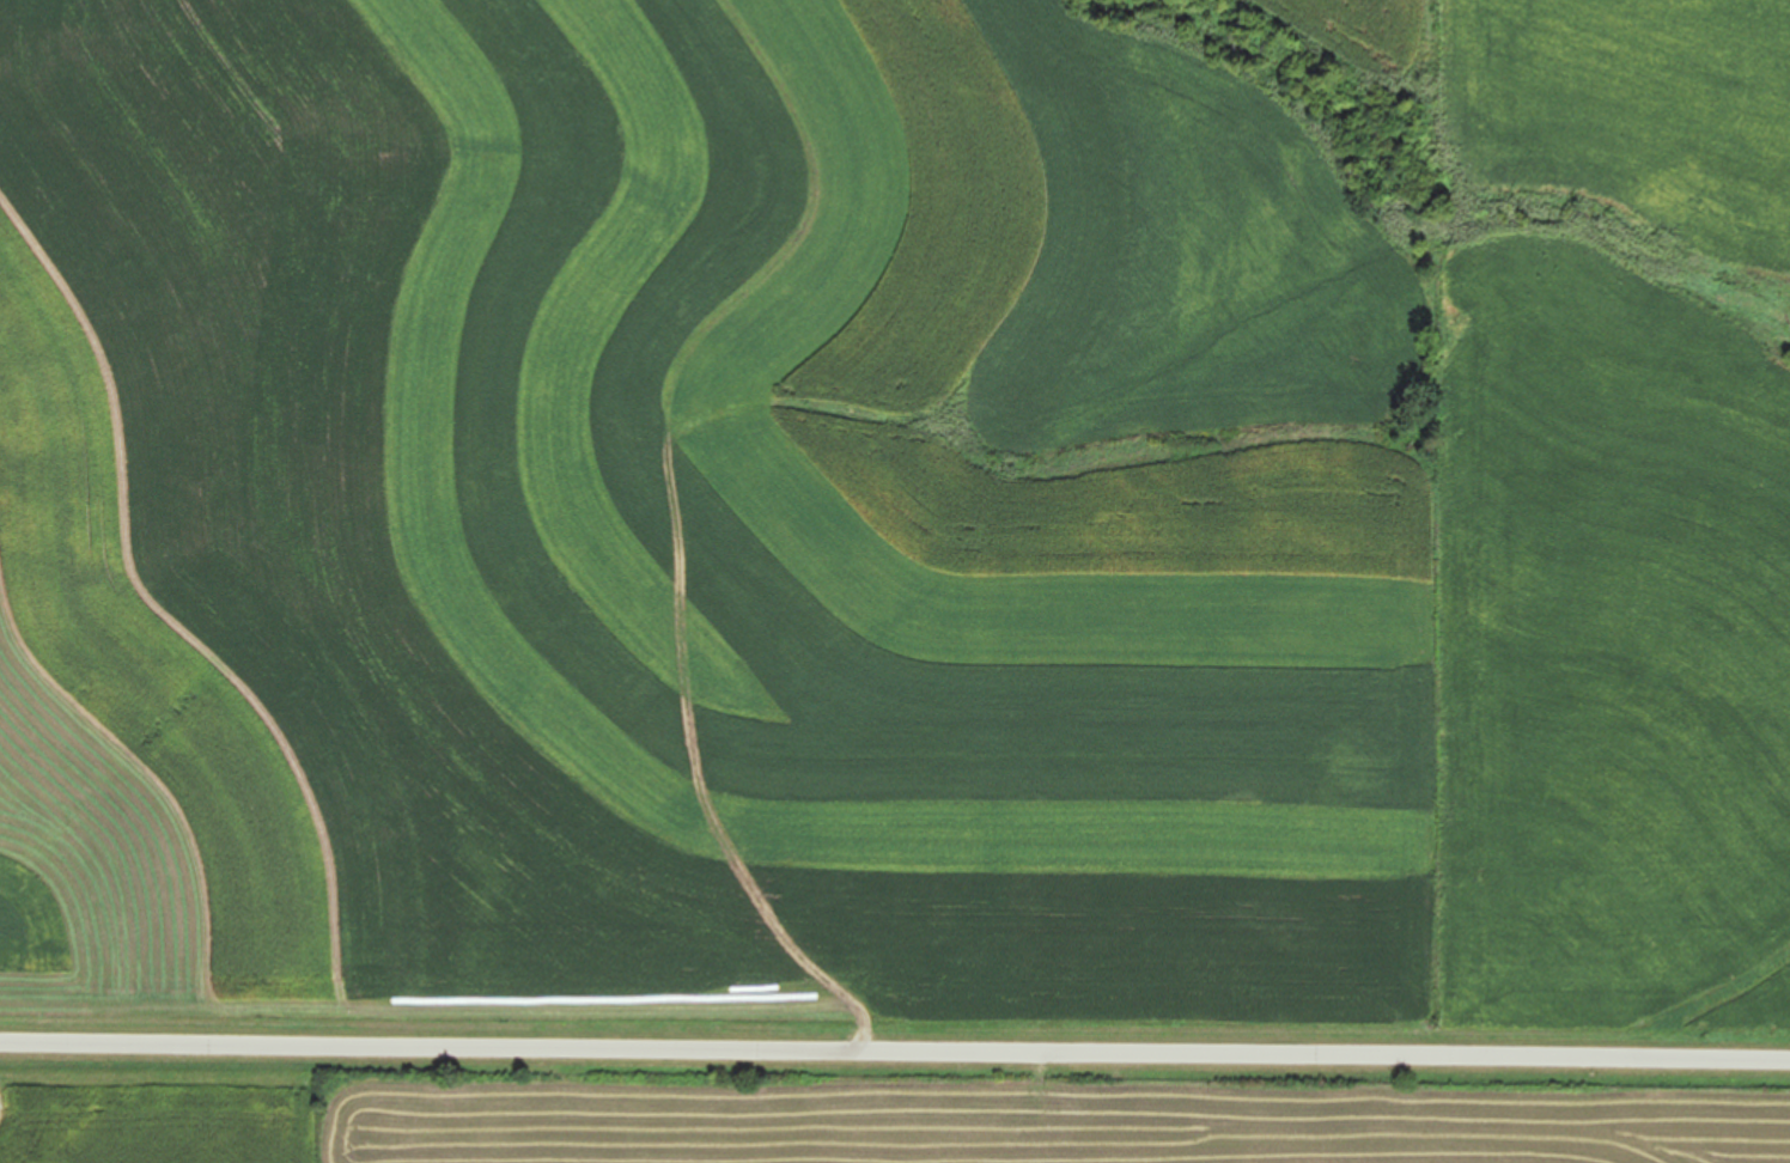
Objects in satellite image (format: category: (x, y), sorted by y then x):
road: (895, 1051)

